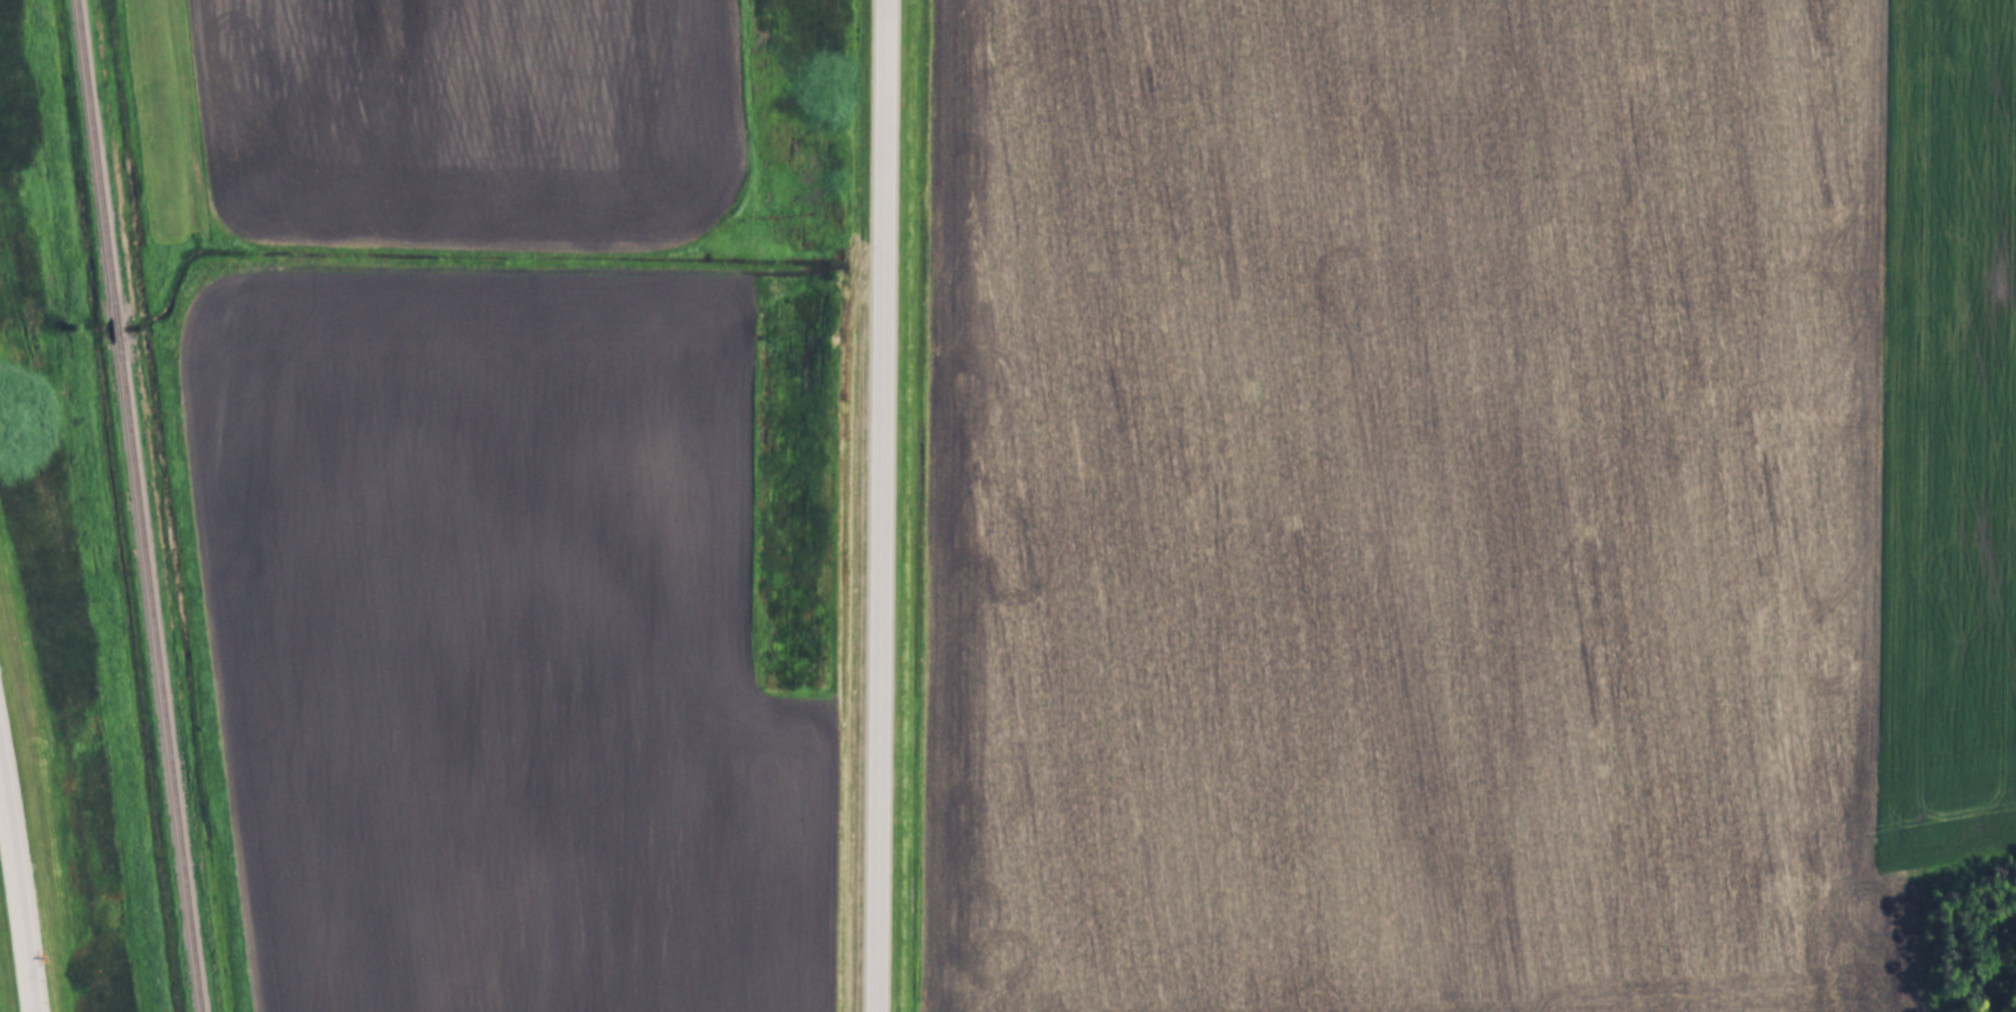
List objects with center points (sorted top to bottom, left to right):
airport runway: (157, 115)
airport: (158, 120)
railway: (95, 158)
railway: (116, 331)
road: (885, 506)
railway: (158, 679)
road: (16, 891)

